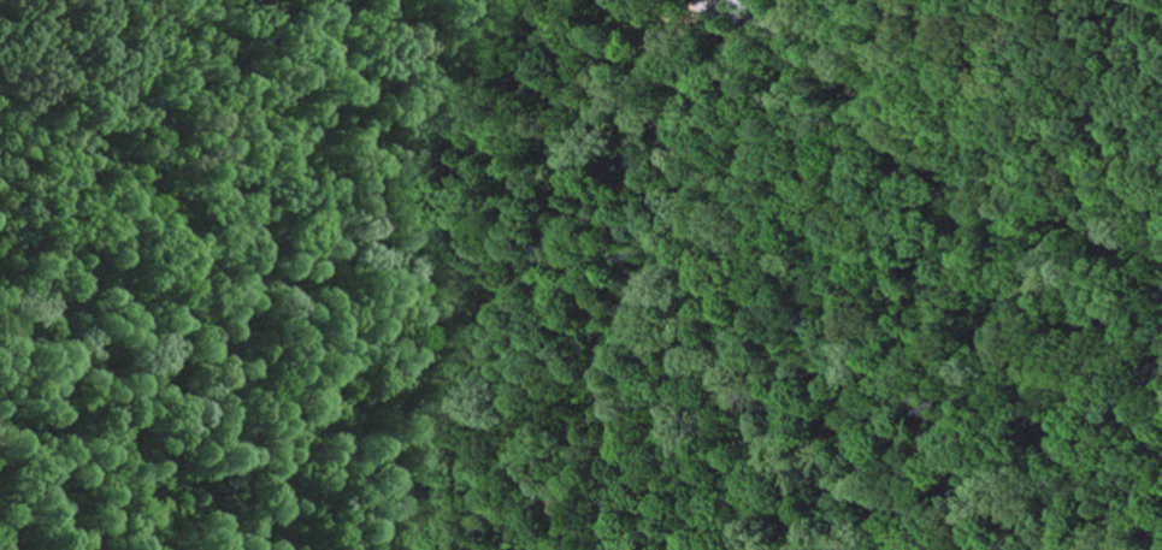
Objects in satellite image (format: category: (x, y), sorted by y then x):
road: (924, 148)
river: (896, 518)

